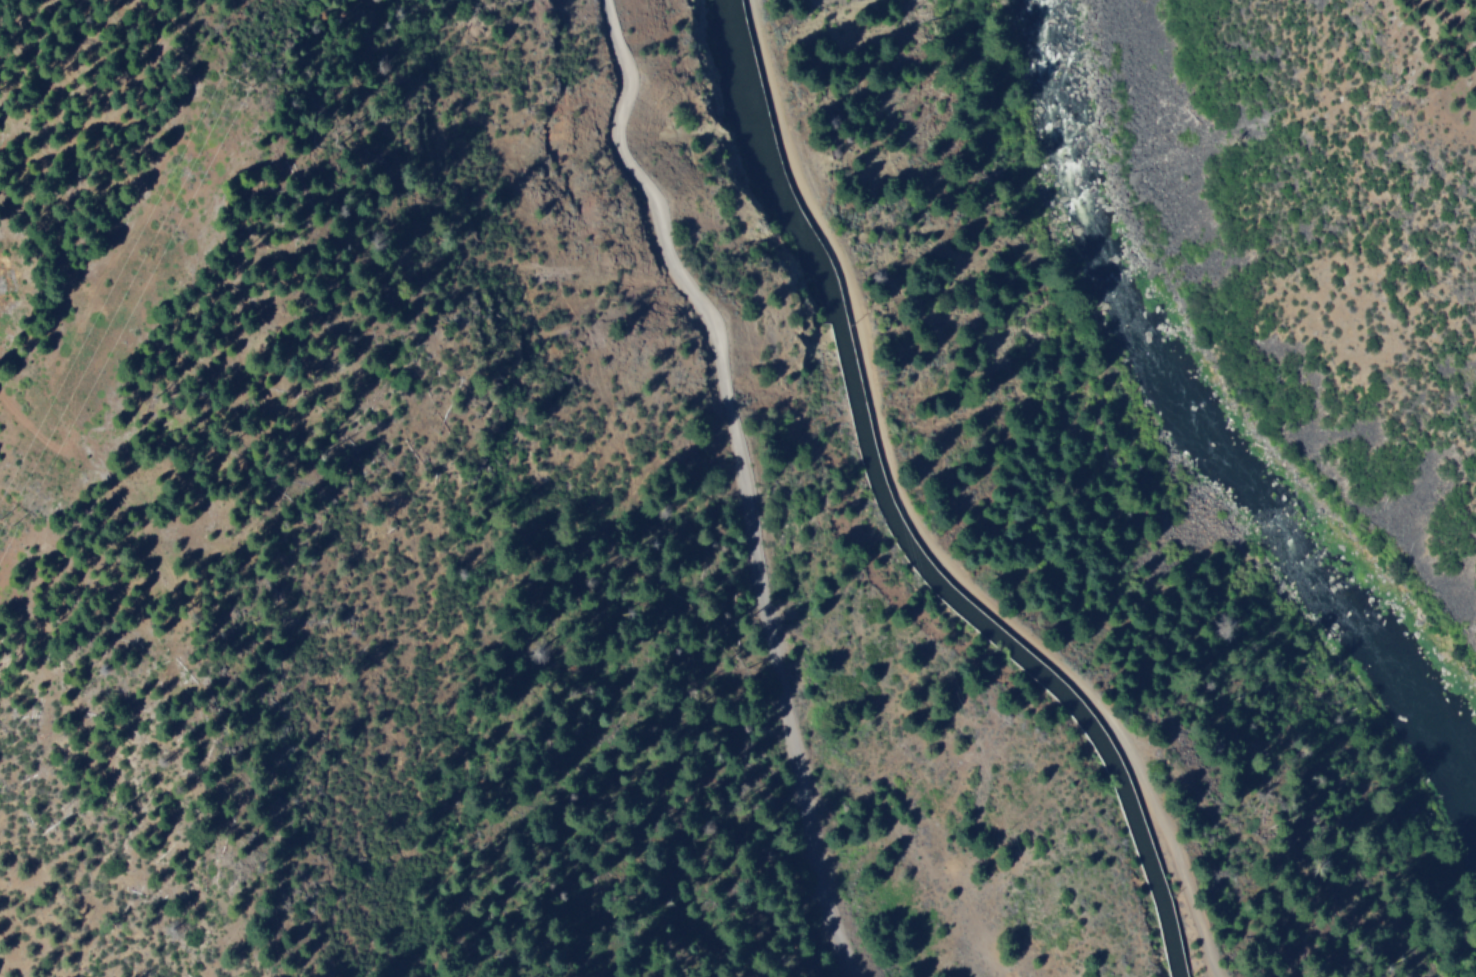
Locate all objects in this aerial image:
power tower: (242, 74)
river: (1206, 417)
road: (750, 476)
power tower: (9, 519)
road: (917, 523)

